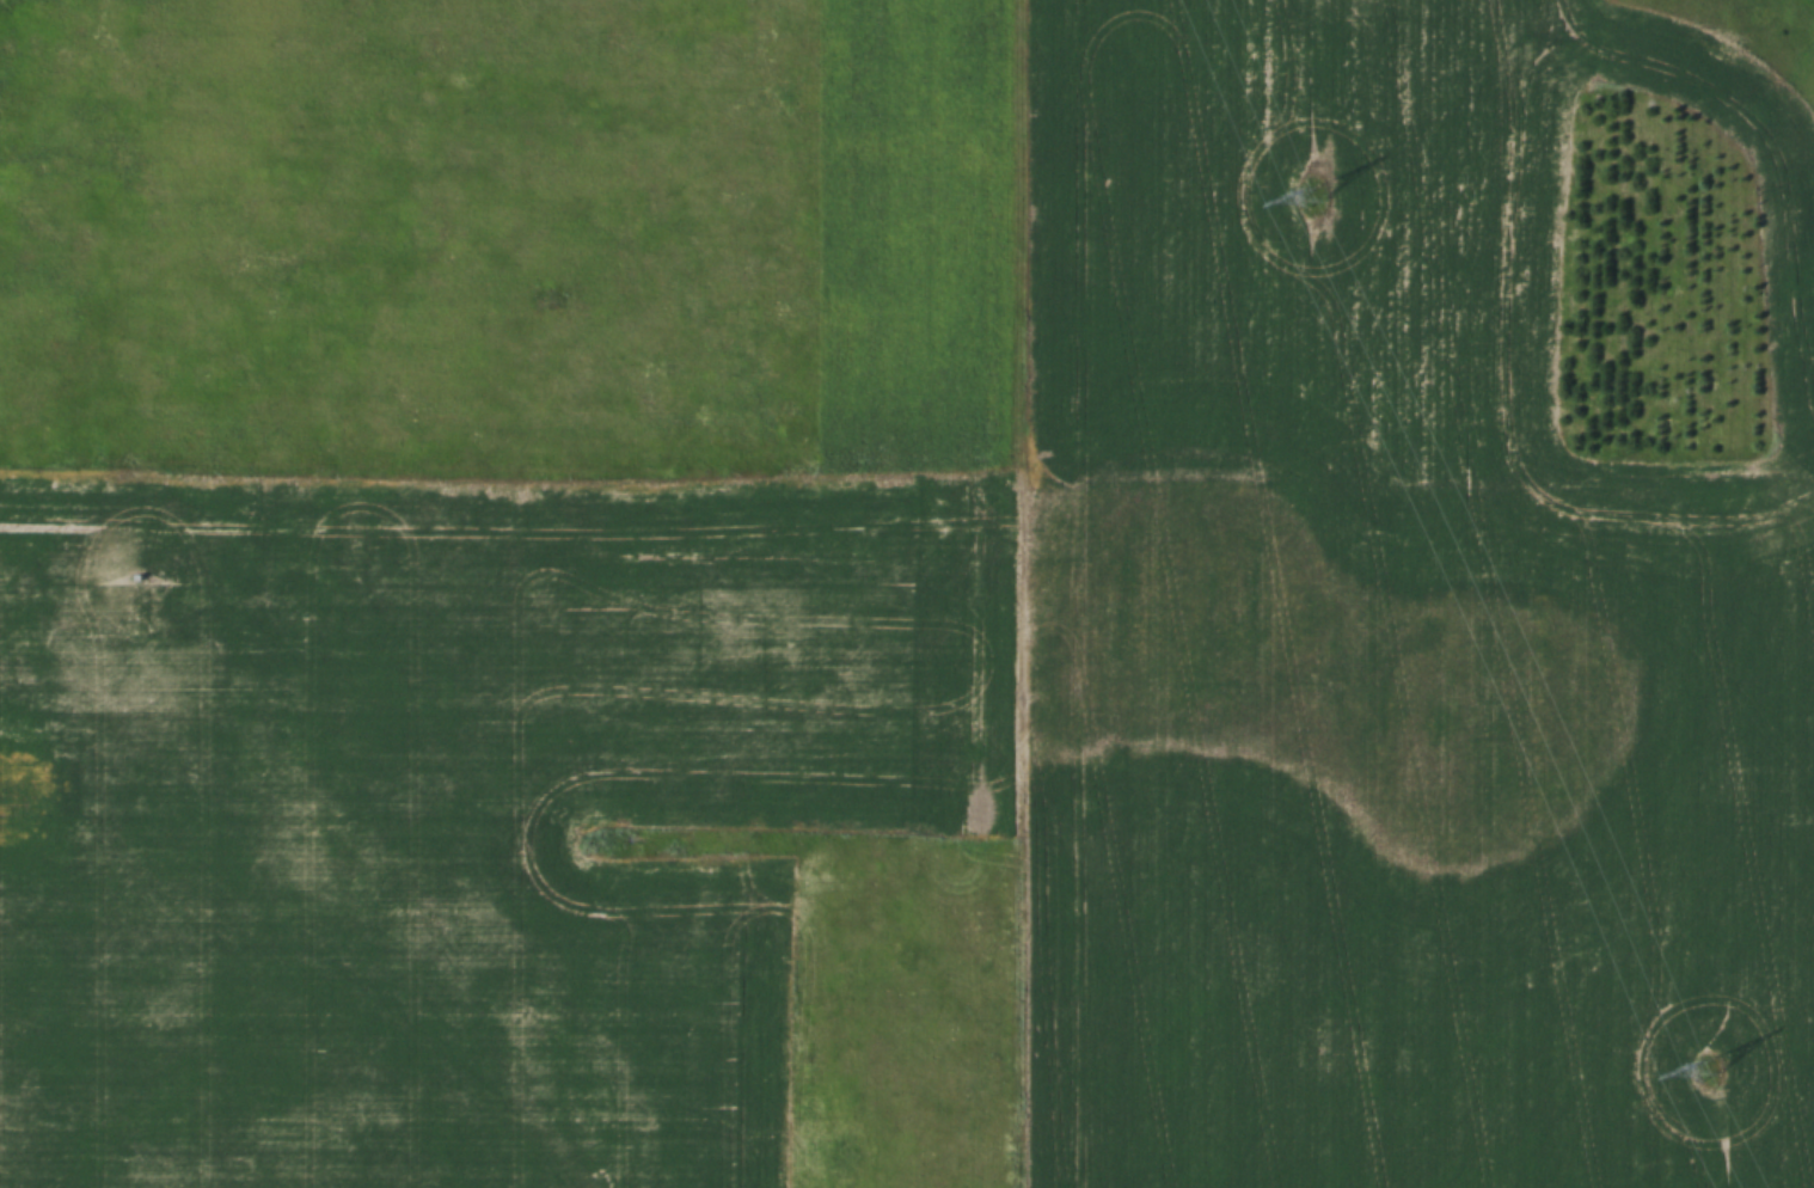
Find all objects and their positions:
power tower: (1310, 201)
power tower: (1706, 1072)

